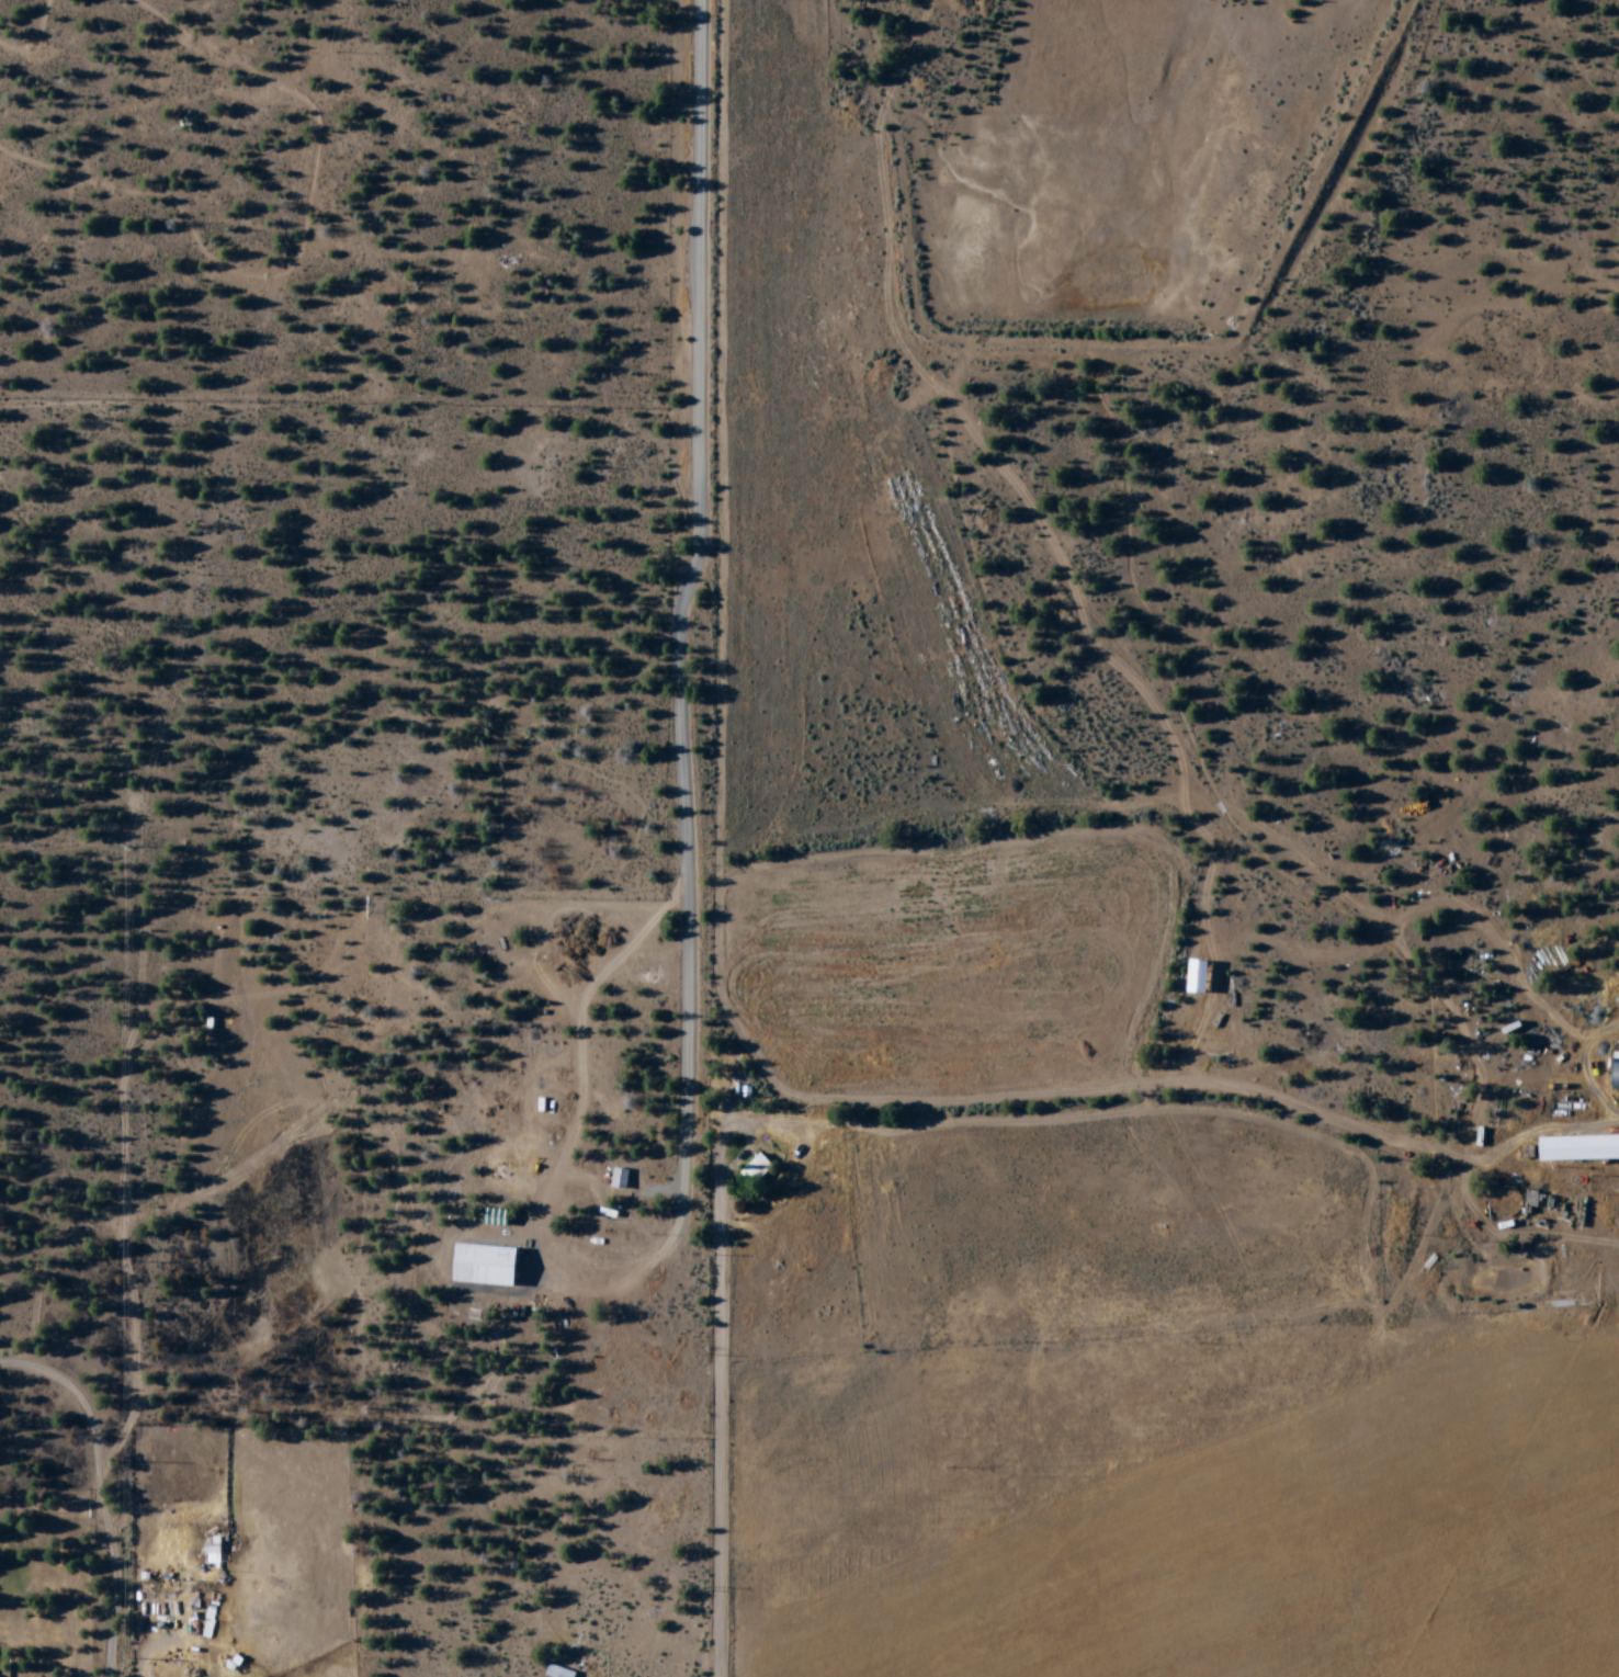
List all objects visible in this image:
building: (1203, 976)
building: (1615, 1075)
building: (1581, 1148)
building: (759, 1169)
building: (621, 1179)
building: (490, 1265)
road: (722, 1426)
road: (100, 1491)
building: (562, 1672)

